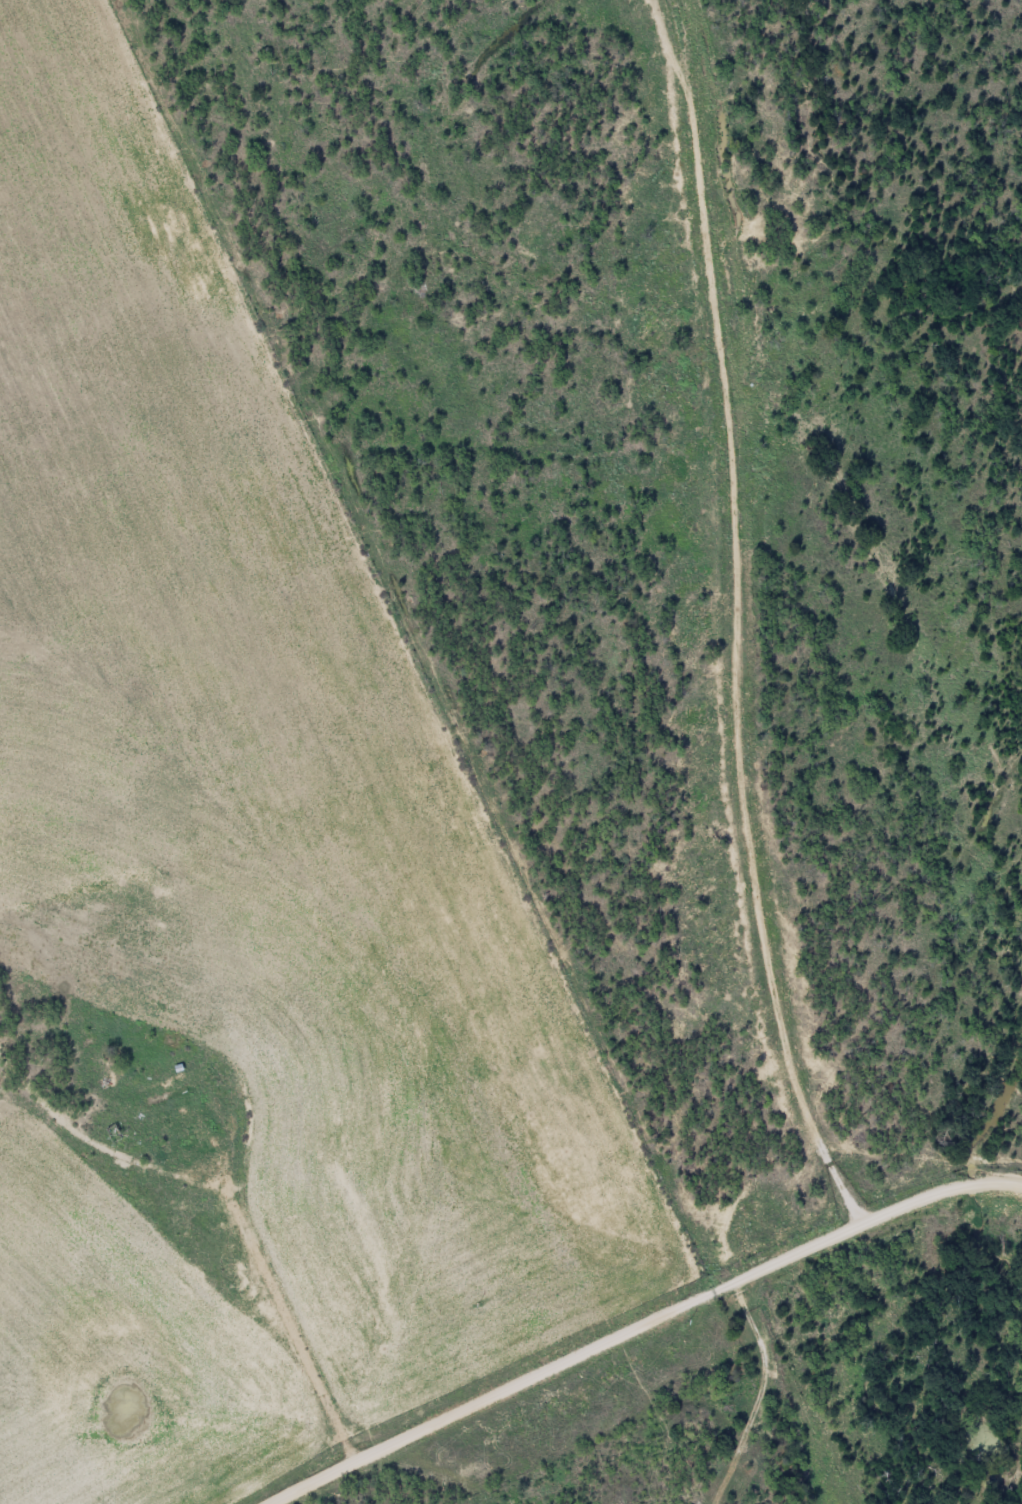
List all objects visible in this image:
road: (743, 618)
road: (812, 1245)
road: (276, 1259)
road: (339, 1404)
road: (459, 1423)

